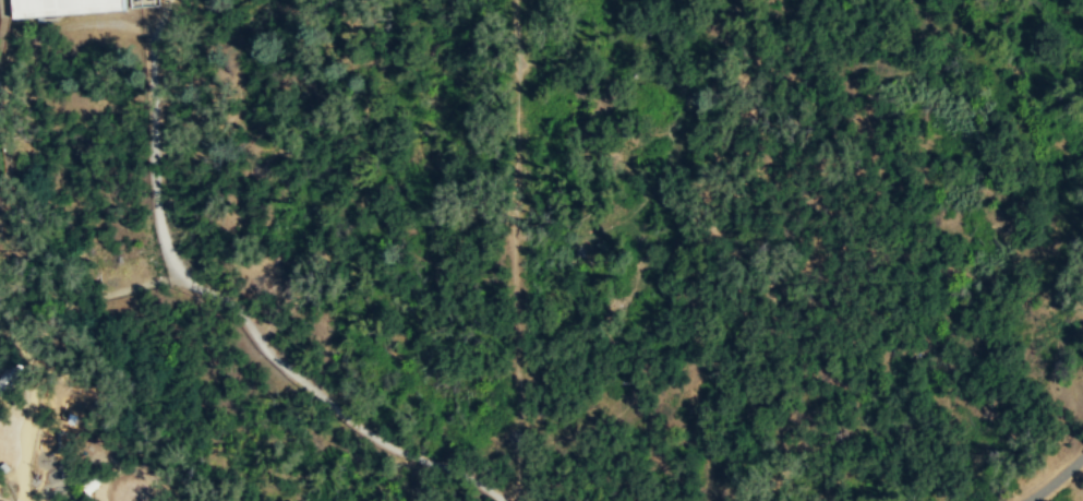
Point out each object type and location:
building: (142, 2)
building: (60, 7)
road: (1, 13)
road: (4, 164)
road: (516, 250)
park: (541, 250)
road: (88, 298)
road: (226, 306)
building: (7, 373)
road: (22, 467)
road: (1056, 480)
building: (91, 481)

